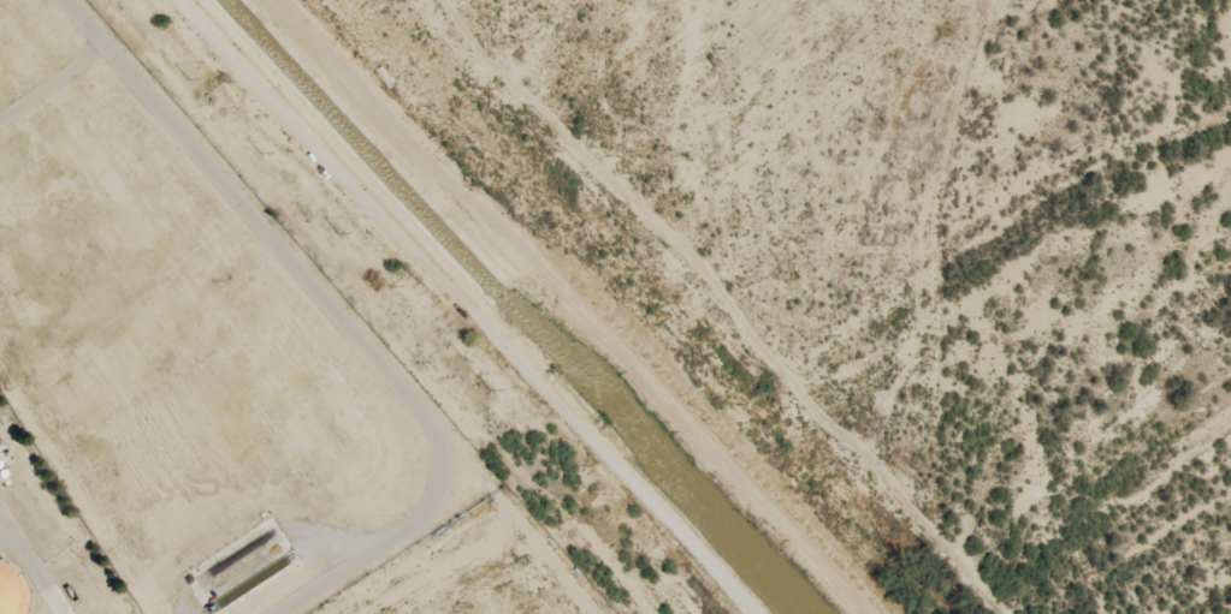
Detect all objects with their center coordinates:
road: (53, 77)
road: (338, 312)
wastewater plant: (46, 538)
road: (34, 566)
building: (11, 589)

